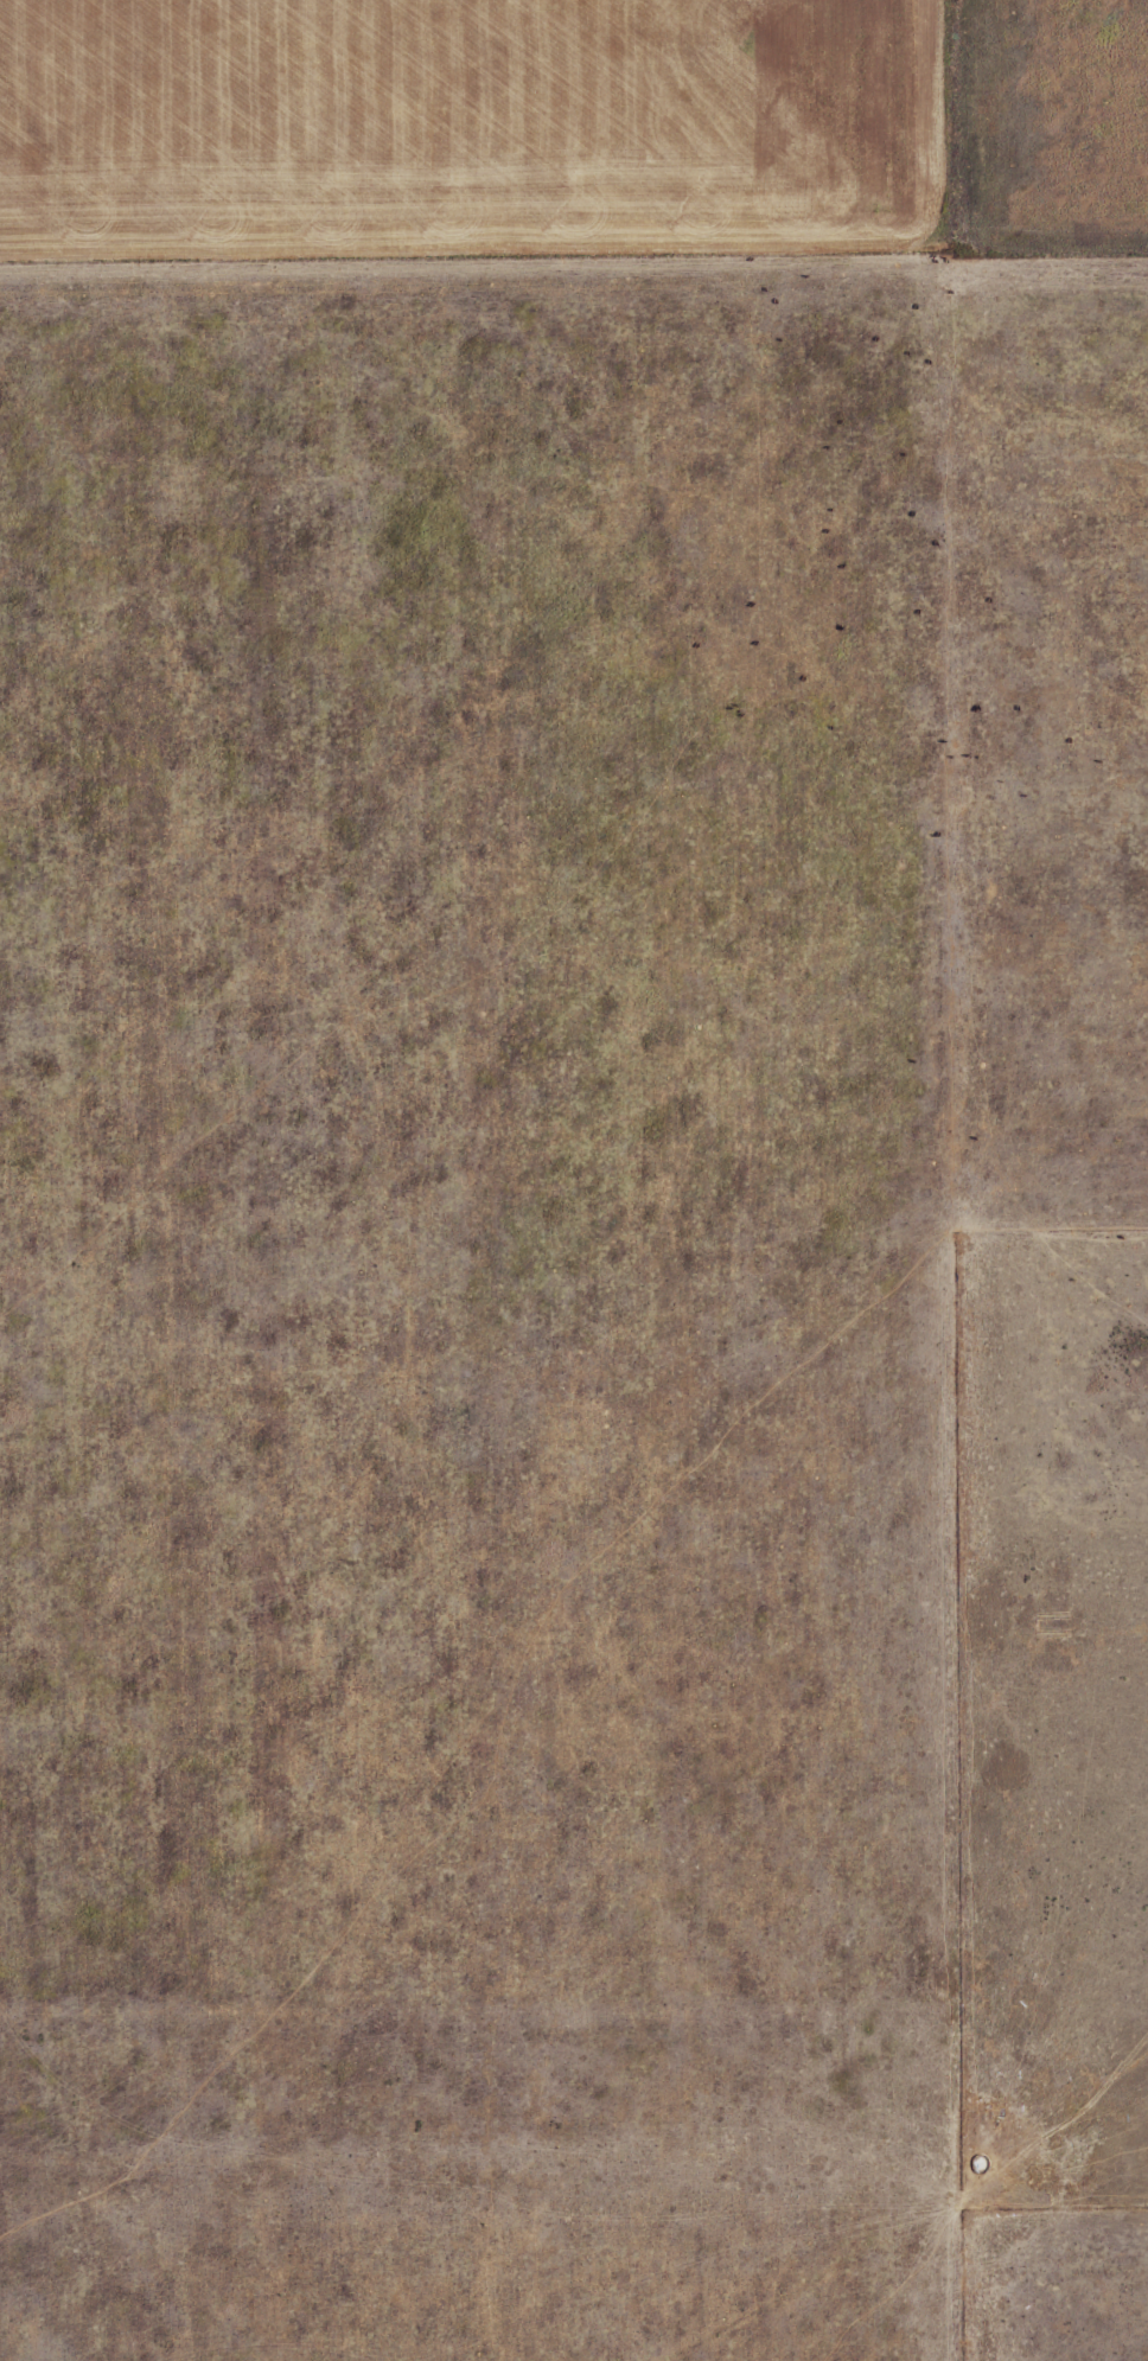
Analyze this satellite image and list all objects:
road: (523, 242)

